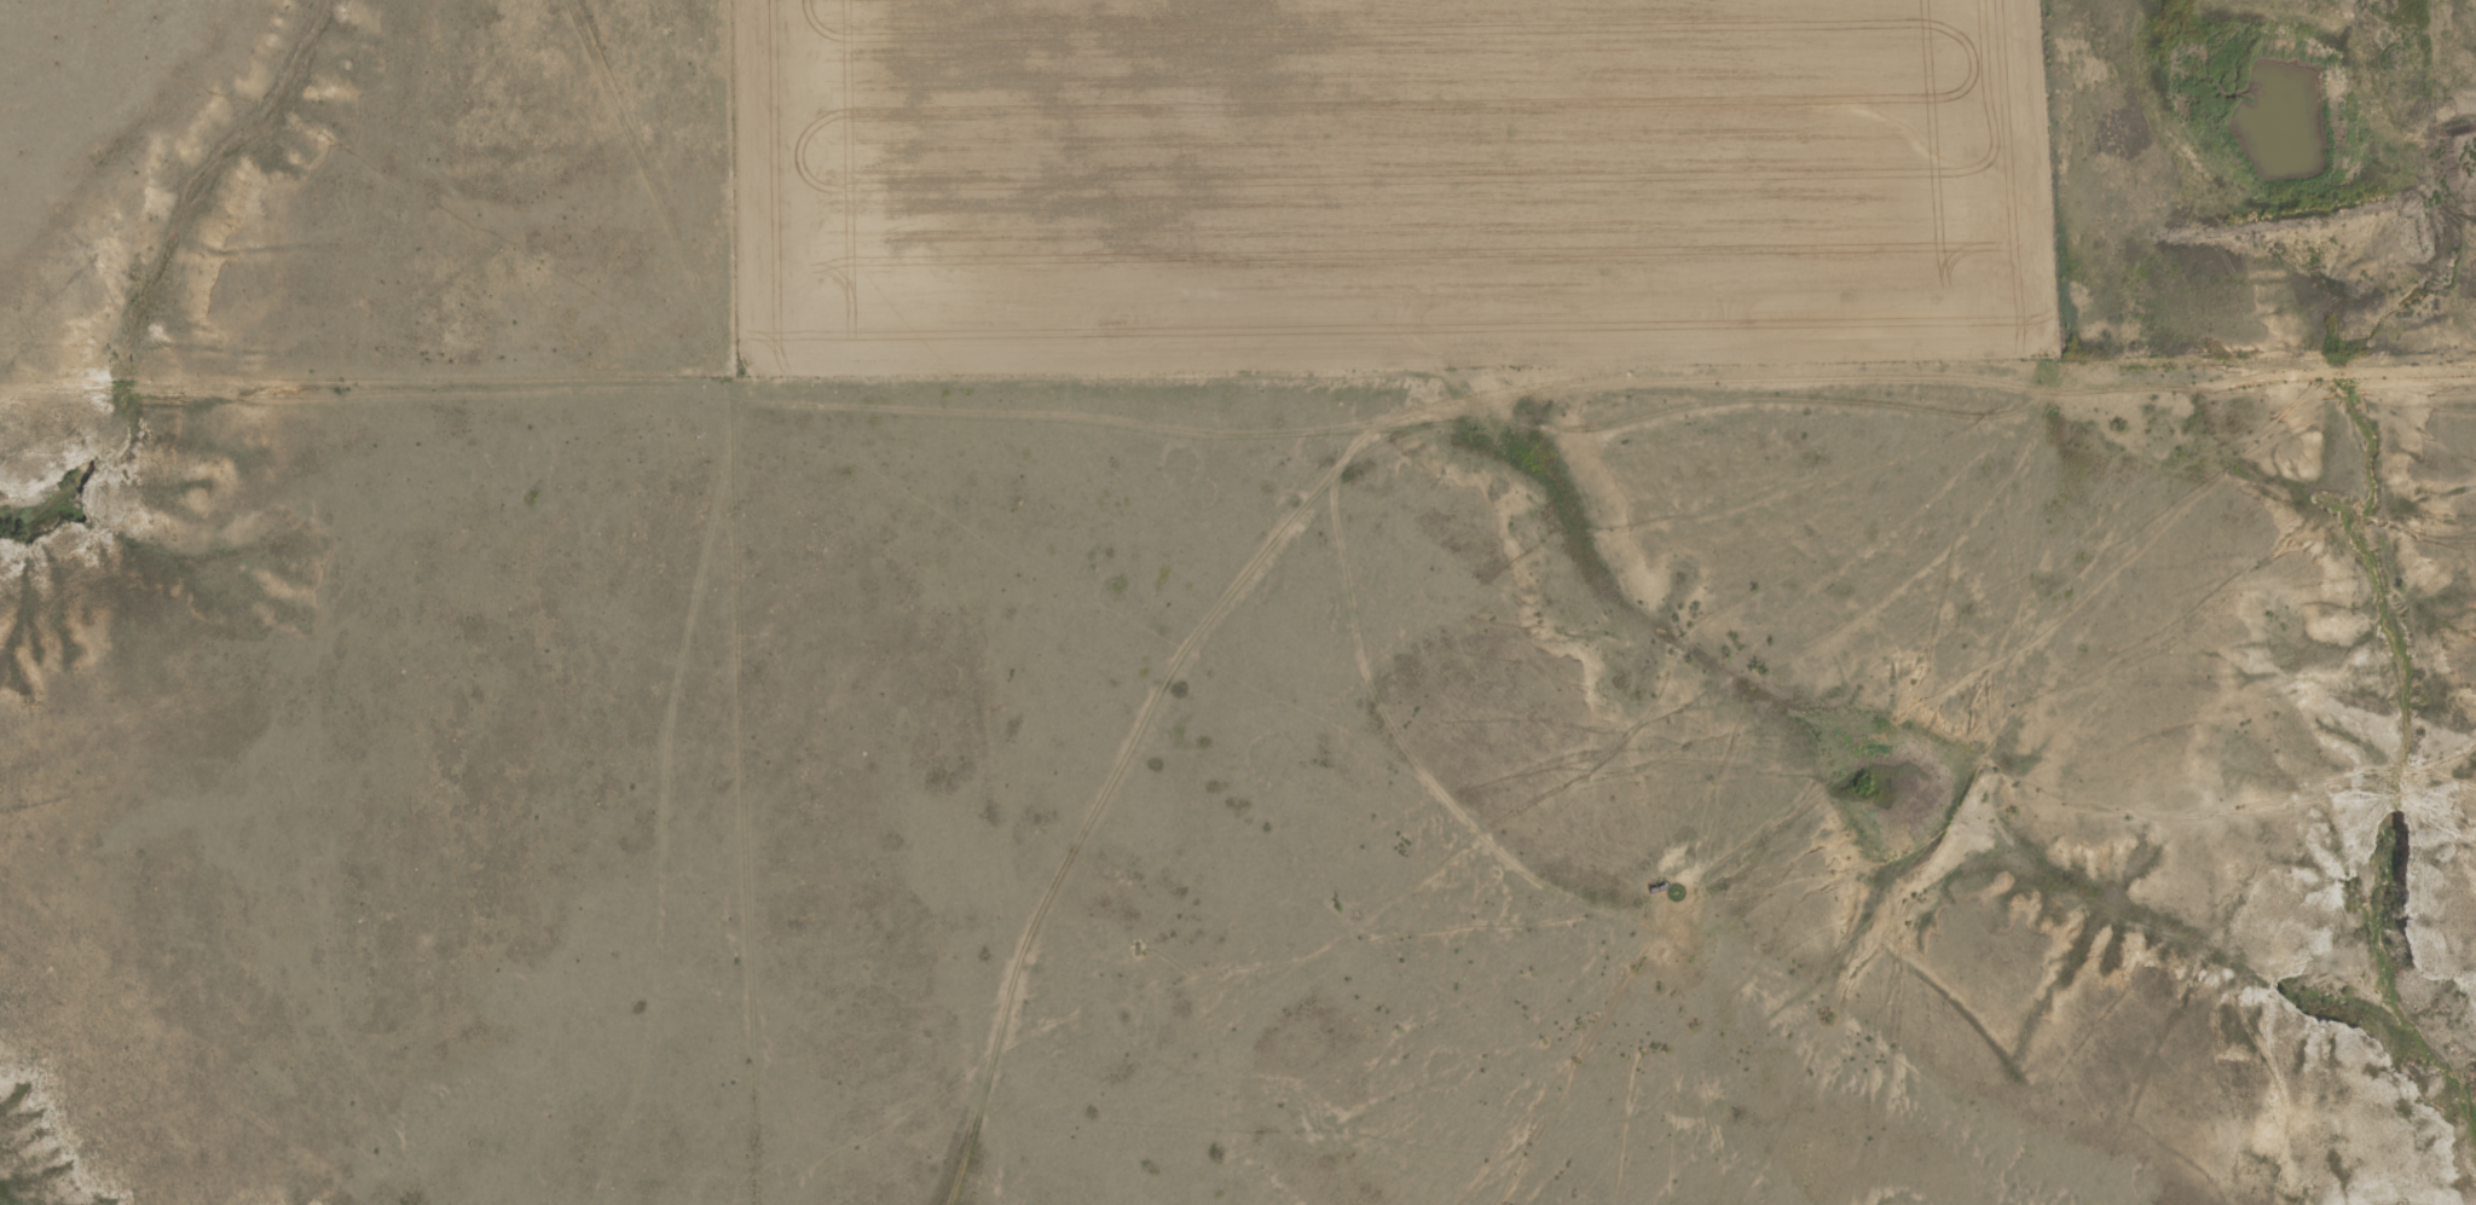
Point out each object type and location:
road: (1344, 546)

